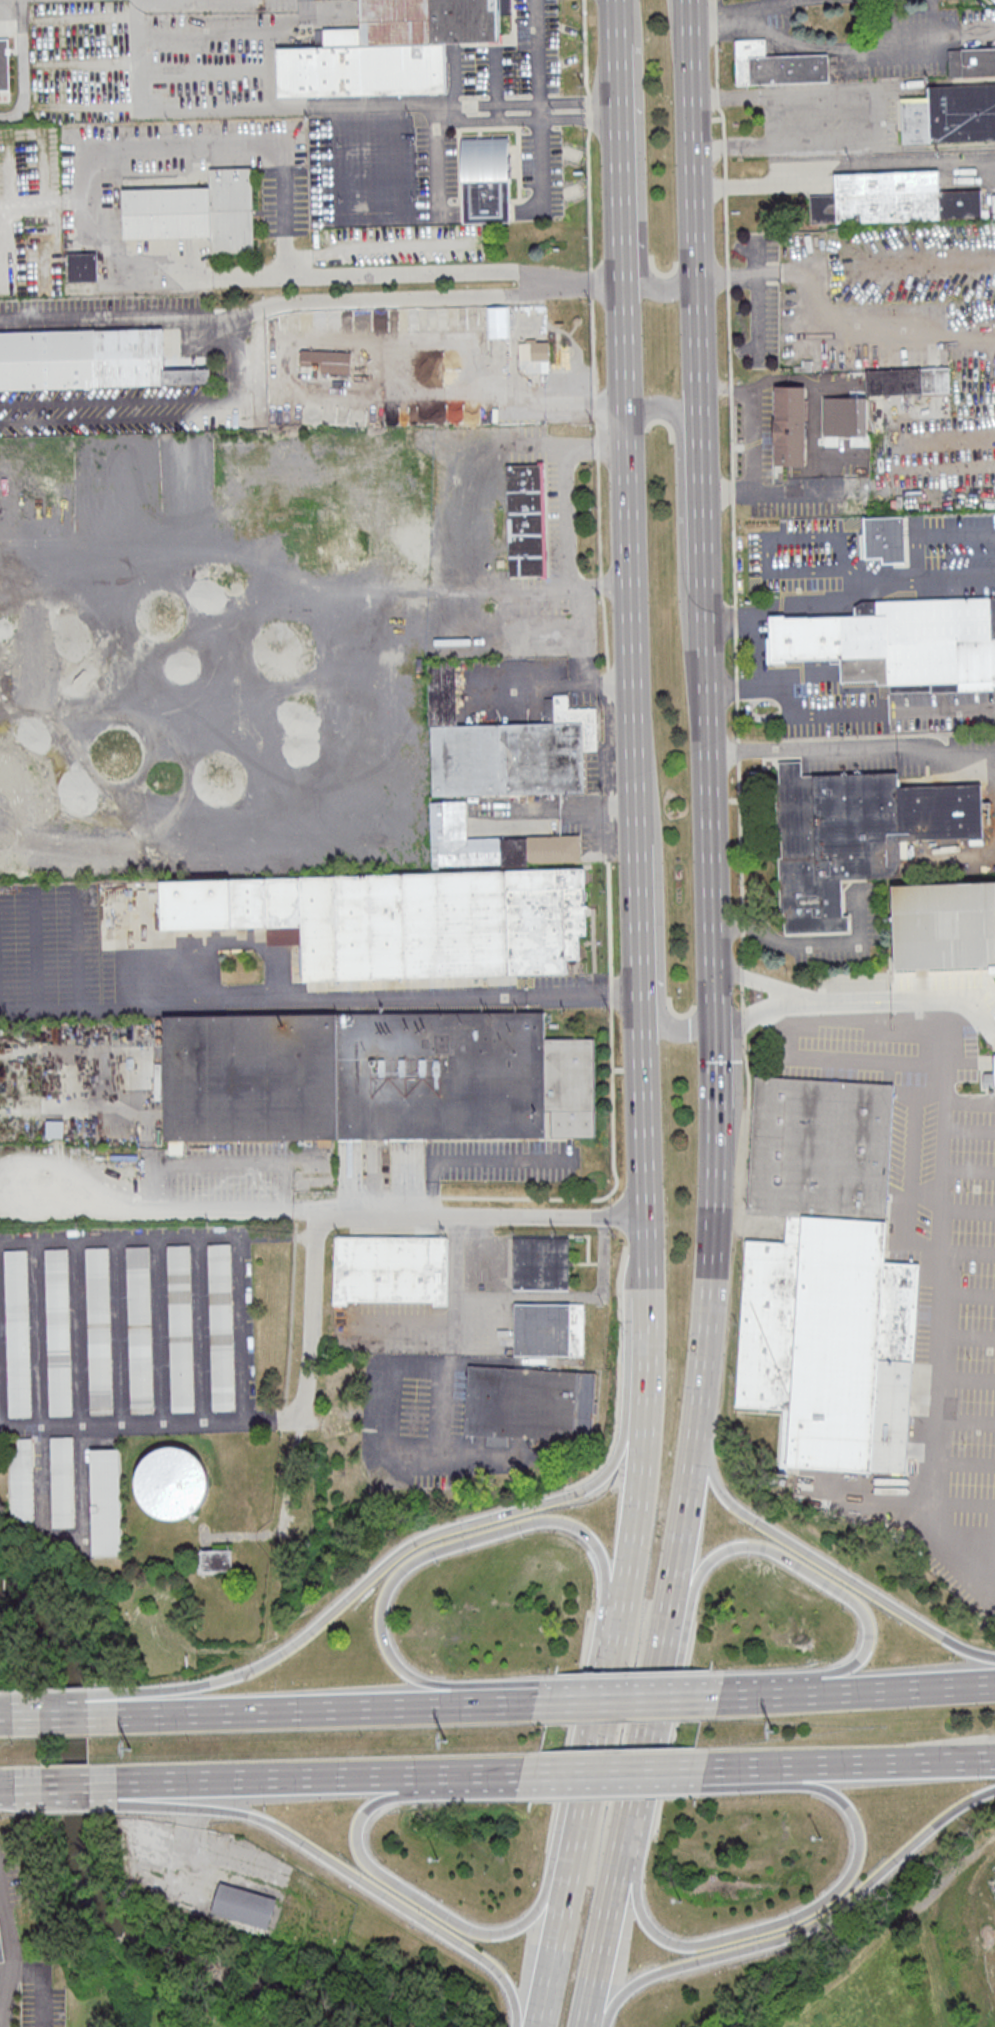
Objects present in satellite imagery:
road: (763, 7)
road: (719, 20)
road: (714, 21)
road: (616, 22)
road: (240, 34)
road: (584, 47)
building: (390, 48)
road: (861, 49)
road: (535, 51)
building: (970, 60)
building: (5, 64)
road: (715, 65)
building: (777, 65)
road: (716, 98)
road: (578, 101)
road: (481, 103)
road: (371, 106)
road: (175, 109)
road: (588, 112)
building: (950, 113)
road: (869, 115)
road: (520, 120)
road: (722, 121)
road: (723, 147)
road: (538, 152)
road: (620, 160)
road: (724, 166)
road: (638, 172)
building: (486, 180)
road: (87, 181)
road: (724, 186)
road: (759, 187)
road: (588, 198)
building: (890, 198)
road: (43, 202)
road: (694, 204)
building: (193, 210)
road: (725, 230)
building: (85, 267)
road: (738, 273)
road: (419, 276)
road: (726, 278)
road: (590, 282)
road: (757, 295)
road: (382, 297)
road: (118, 317)
road: (854, 335)
road: (727, 337)
road: (592, 345)
building: (534, 355)
building: (89, 359)
building: (326, 360)
road: (755, 388)
road: (308, 389)
road: (726, 389)
road: (729, 390)
road: (593, 408)
building: (845, 416)
road: (171, 419)
building: (789, 425)
road: (594, 429)
road: (730, 438)
road: (818, 438)
road: (536, 447)
road: (595, 447)
road: (931, 479)
road: (562, 488)
road: (731, 491)
road: (784, 492)
road: (700, 494)
road: (679, 514)
road: (597, 518)
building: (526, 519)
road: (931, 520)
building: (840, 539)
building: (348, 553)
road: (733, 553)
road: (629, 560)
road: (848, 567)
road: (957, 581)
road: (901, 583)
road: (600, 586)
road: (712, 592)
road: (341, 596)
road: (821, 604)
road: (726, 605)
road: (734, 620)
road: (728, 625)
road: (604, 632)
building: (898, 642)
road: (756, 646)
road: (734, 658)
road: (550, 683)
road: (607, 683)
road: (744, 685)
road: (735, 688)
road: (943, 708)
road: (795, 715)
road: (735, 720)
road: (851, 744)
road: (291, 745)
road: (609, 746)
building: (505, 747)
road: (736, 751)
road: (415, 763)
road: (610, 804)
building: (856, 834)
road: (739, 840)
building: (492, 843)
road: (959, 853)
road: (608, 894)
building: (399, 919)
building: (944, 924)
road: (741, 927)
road: (656, 930)
road: (641, 932)
road: (809, 942)
road: (741, 951)
road: (741, 975)
road: (748, 979)
road: (610, 991)
road: (950, 994)
road: (741, 995)
road: (411, 999)
road: (712, 1000)
road: (838, 1000)
road: (752, 1011)
traffic signals: (714, 1020)
road: (742, 1020)
road: (746, 1069)
building: (375, 1077)
building: (990, 1079)
road: (474, 1160)
road: (645, 1173)
road: (148, 1180)
road: (613, 1186)
road: (386, 1199)
road: (314, 1204)
road: (214, 1207)
road: (378, 1214)
road: (158, 1238)
road: (935, 1250)
building: (540, 1262)
building: (391, 1269)
building: (824, 1278)
road: (459, 1319)
building: (218, 1327)
building: (178, 1328)
building: (549, 1328)
building: (137, 1329)
building: (96, 1330)
building: (56, 1331)
building: (15, 1332)
road: (632, 1381)
road: (439, 1390)
building: (529, 1403)
road: (384, 1415)
road: (151, 1425)
road: (637, 1476)
building: (19, 1480)
building: (59, 1481)
water tower: (169, 1481)
building: (169, 1482)
storage tank: (169, 1482)
building: (103, 1501)
road: (961, 1507)
road: (680, 1533)
road: (961, 1535)
road: (420, 1554)
building: (217, 1561)
road: (820, 1563)
road: (372, 1573)
road: (855, 1605)
road: (679, 1617)
road: (910, 1685)
road: (771, 1693)
road: (628, 1698)
road: (61, 1699)
road: (624, 1699)
road: (323, 1708)
road: (62, 1712)
road: (4, 1714)
power tower: (773, 1729)
power tower: (447, 1739)
road: (641, 1747)
power tower: (131, 1748)
road: (594, 1748)
road: (945, 1749)
road: (897, 1762)
road: (750, 1769)
road: (655, 1772)
road: (564, 1774)
road: (315, 1777)
road: (62, 1782)
road: (562, 1783)
road: (5, 1784)
road: (6, 1801)
road: (63, 1804)
road: (179, 1850)
road: (362, 1860)
road: (344, 1871)
river: (83, 1878)
road: (557, 1888)
road: (816, 1902)
building: (242, 1906)
road: (3, 1911)
road: (826, 1915)
park: (952, 1927)
road: (605, 1937)
road: (14, 1947)
road: (556, 1948)
building: (0, 1956)
parking lot: (28, 1996)
road: (611, 2004)

